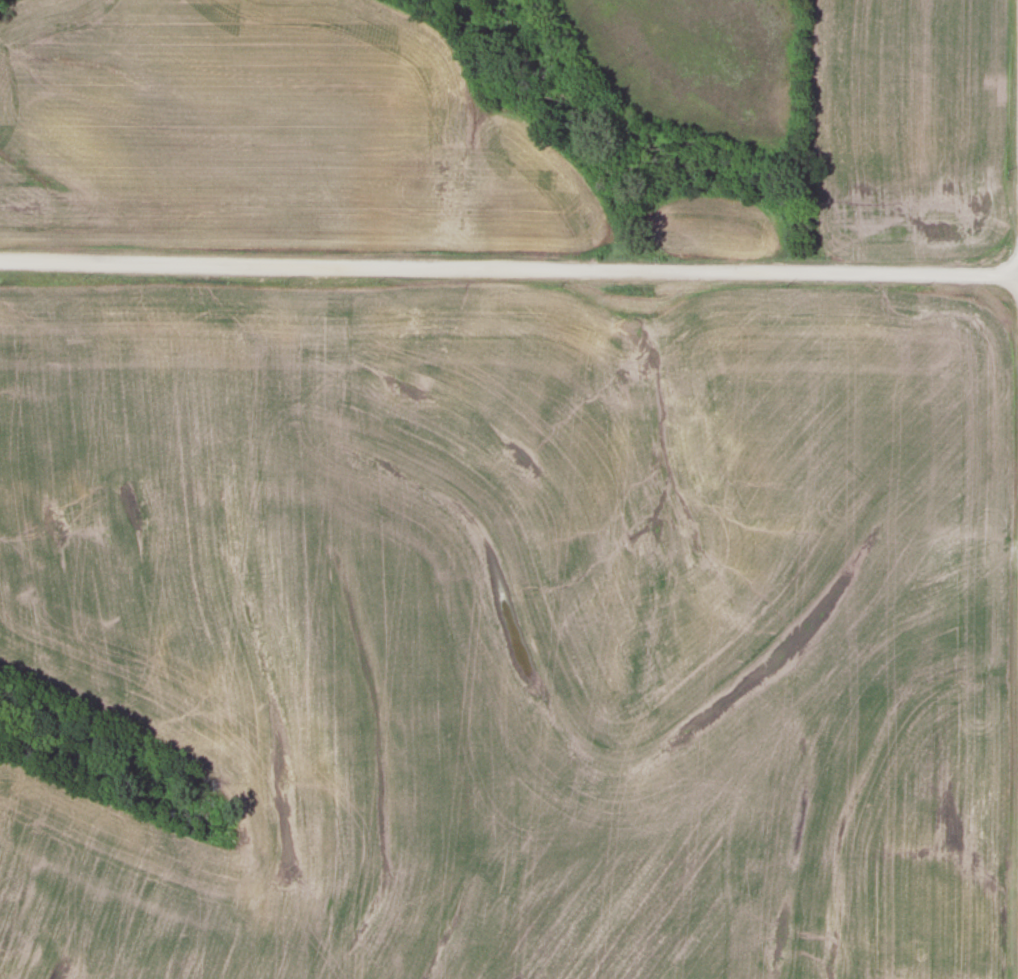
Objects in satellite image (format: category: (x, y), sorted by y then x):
road: (509, 264)

